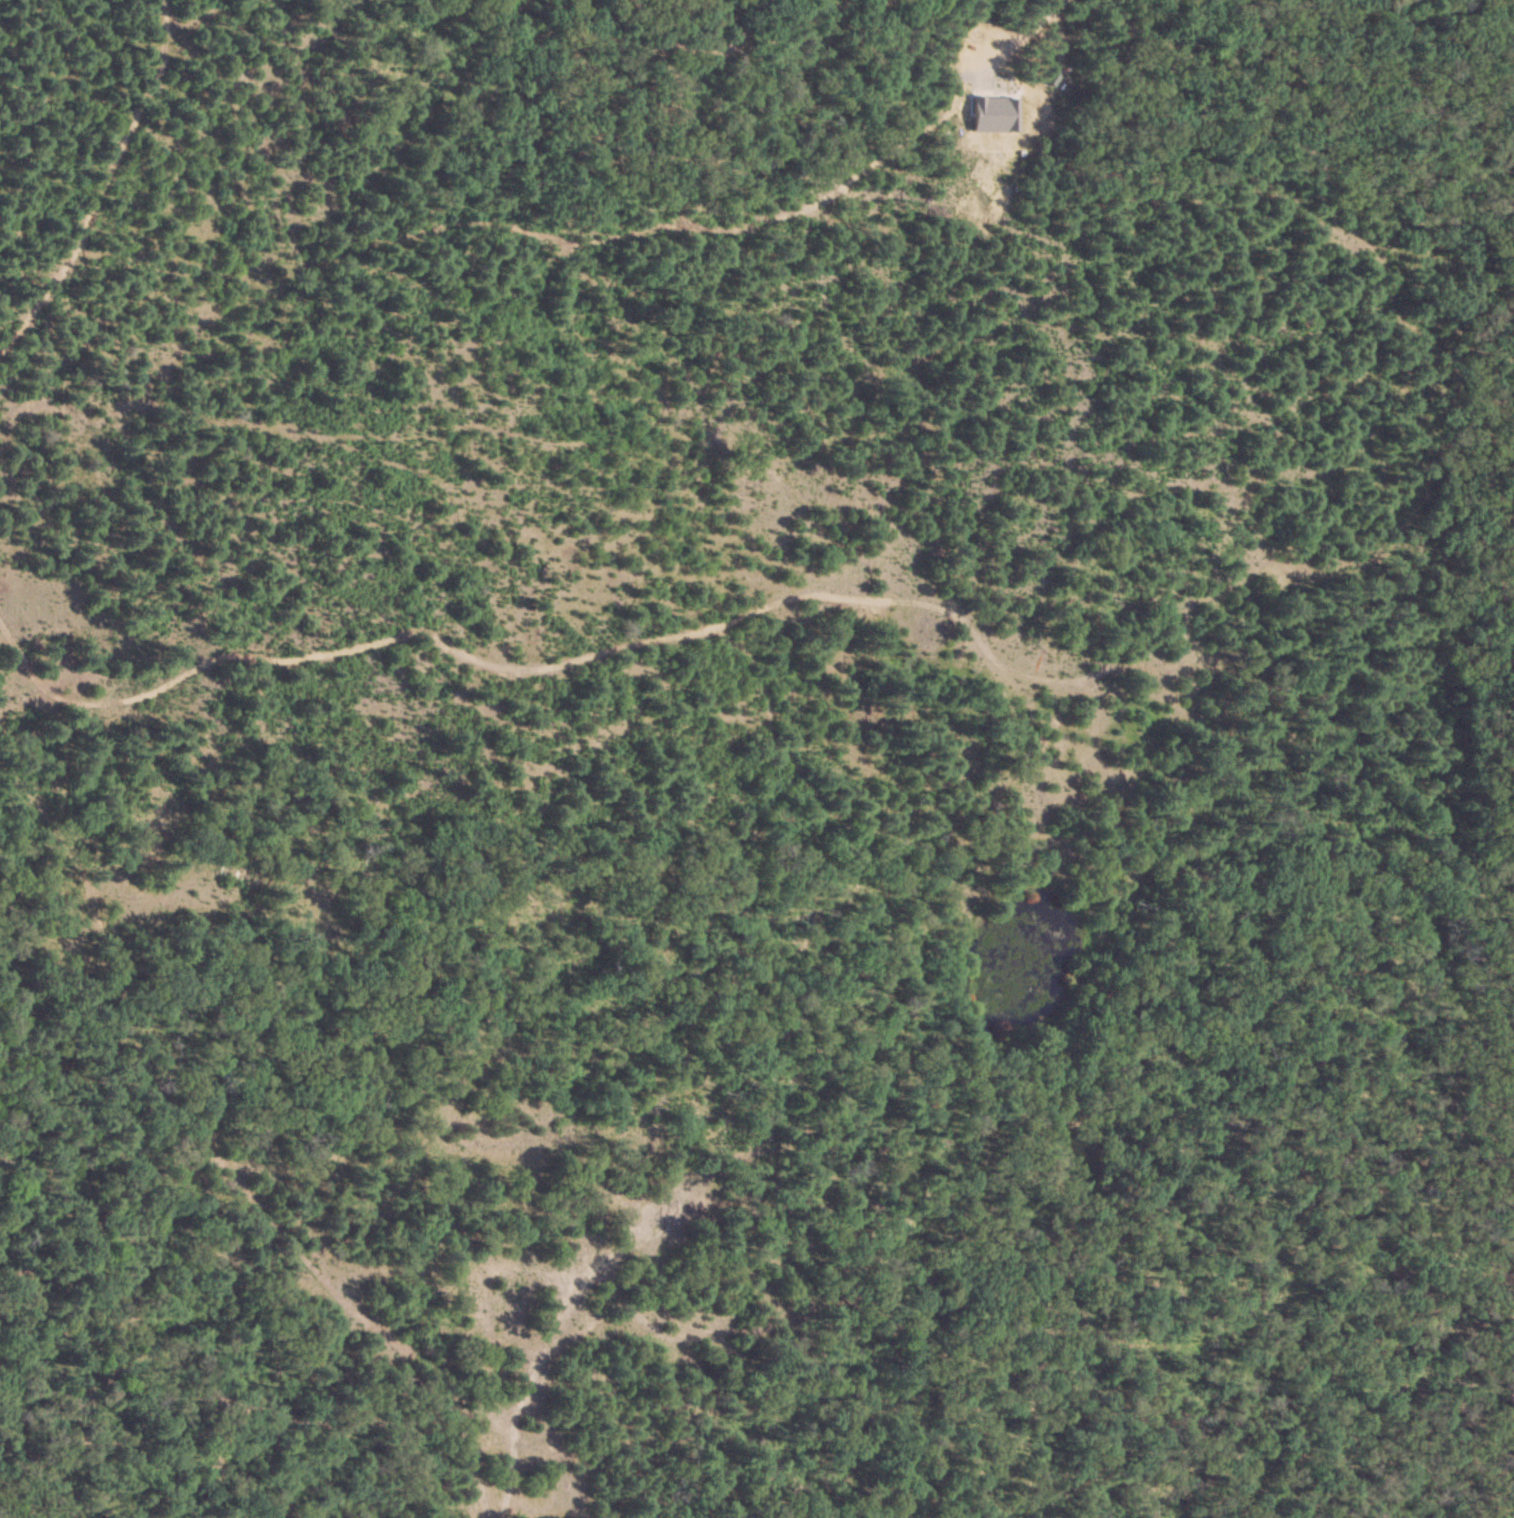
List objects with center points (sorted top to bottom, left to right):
road: (1060, 7)

